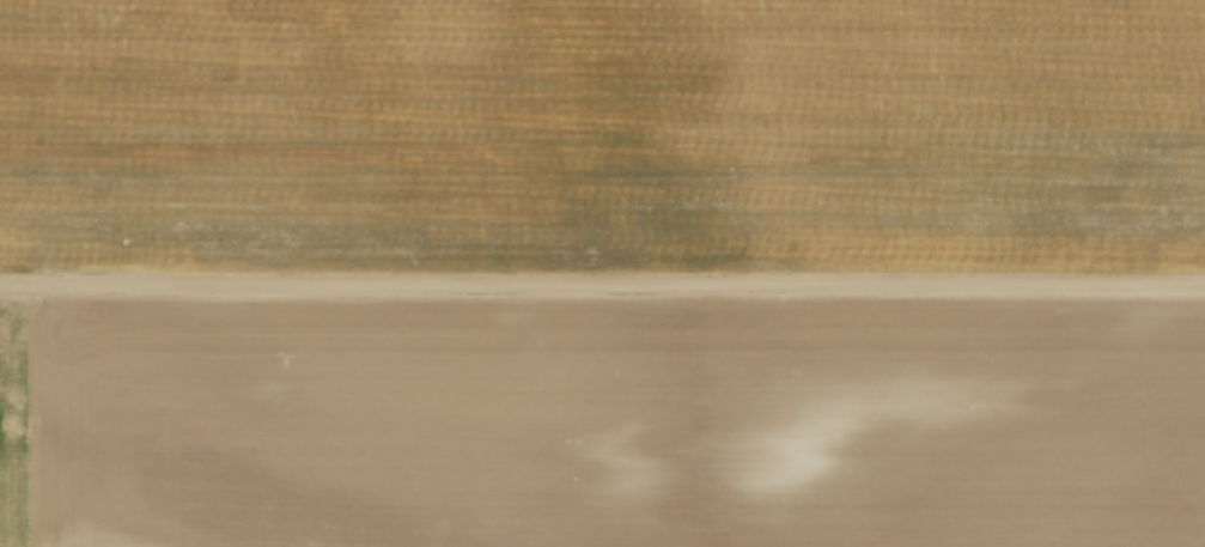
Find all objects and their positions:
crop: (602, 133)
road: (602, 284)
crop: (602, 424)

